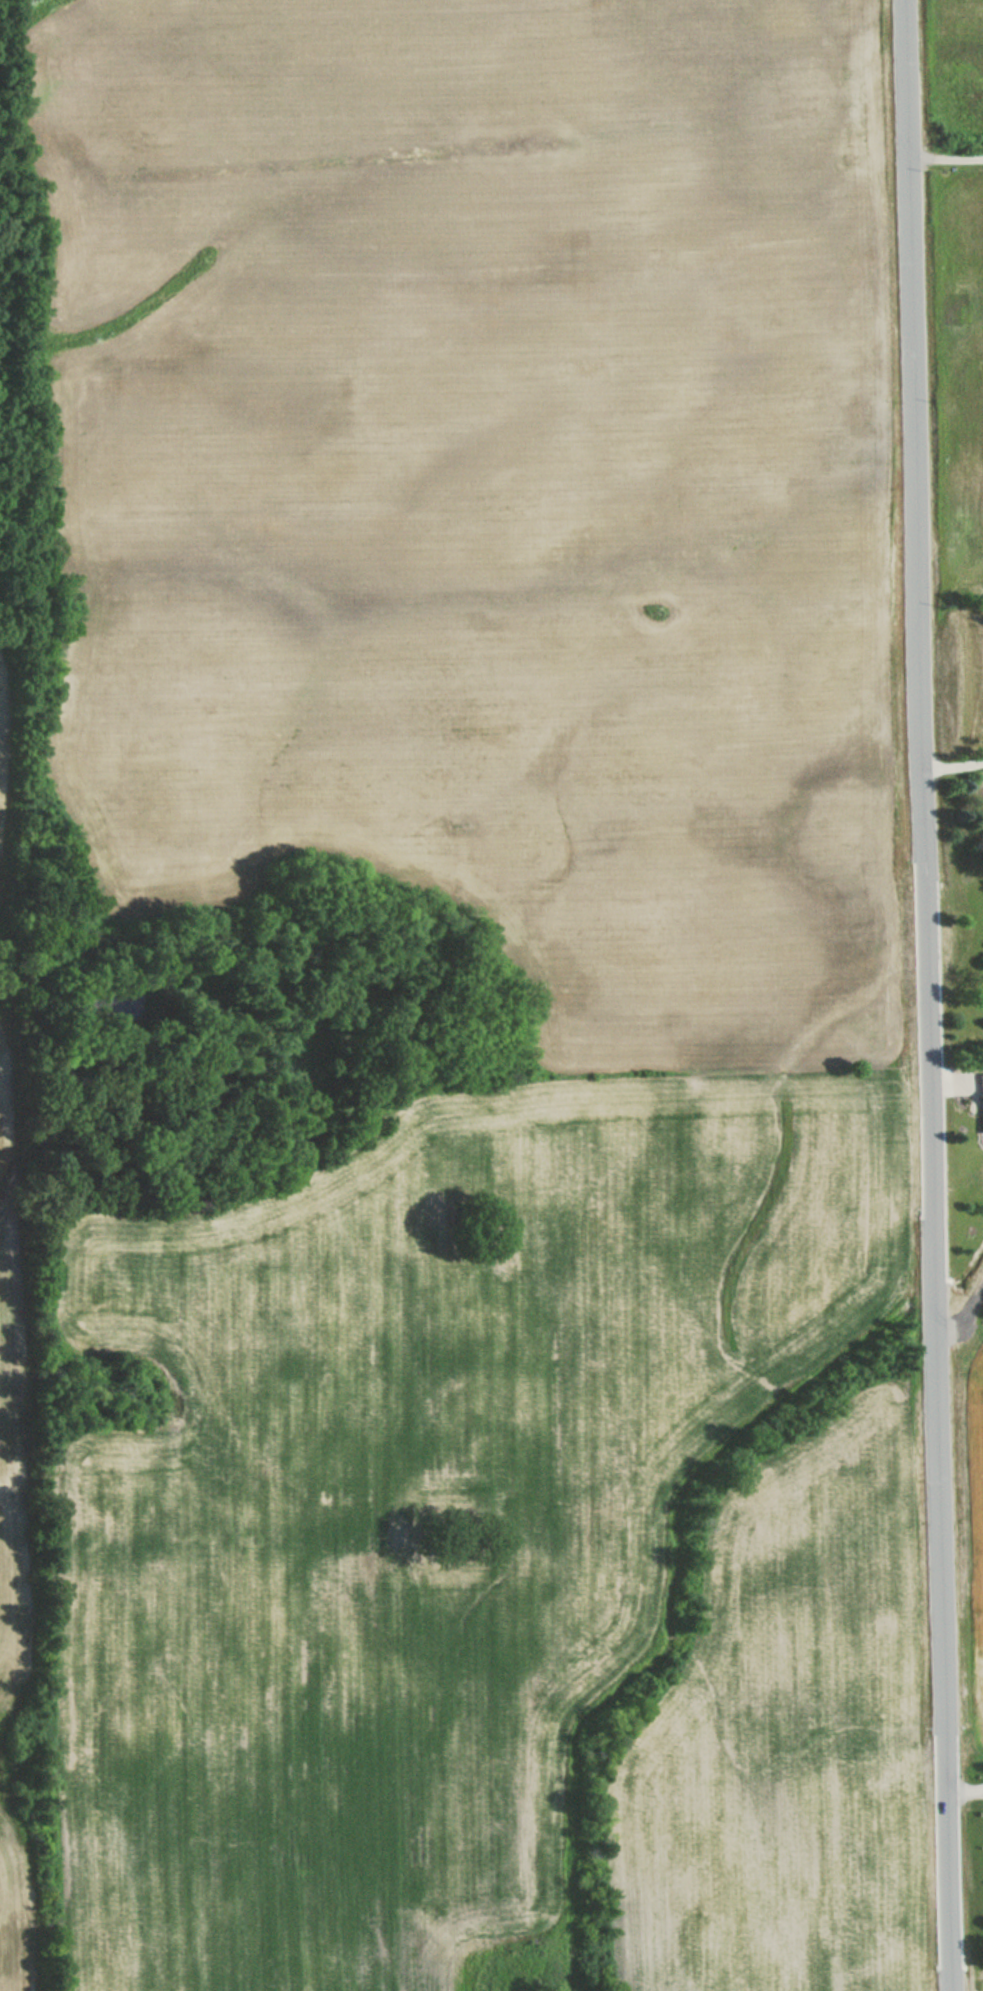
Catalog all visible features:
road: (946, 157)
road: (954, 776)
road: (929, 995)
road: (964, 1082)
road: (937, 1083)
road: (947, 1083)
building: (980, 1100)
road: (968, 1320)
road: (967, 1793)

